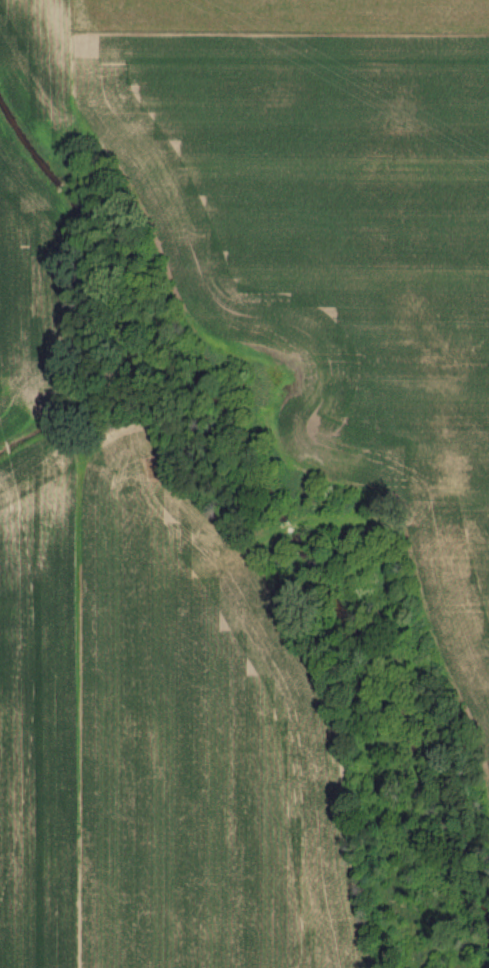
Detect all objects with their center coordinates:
crop: (27, 286)
crop: (157, 735)

